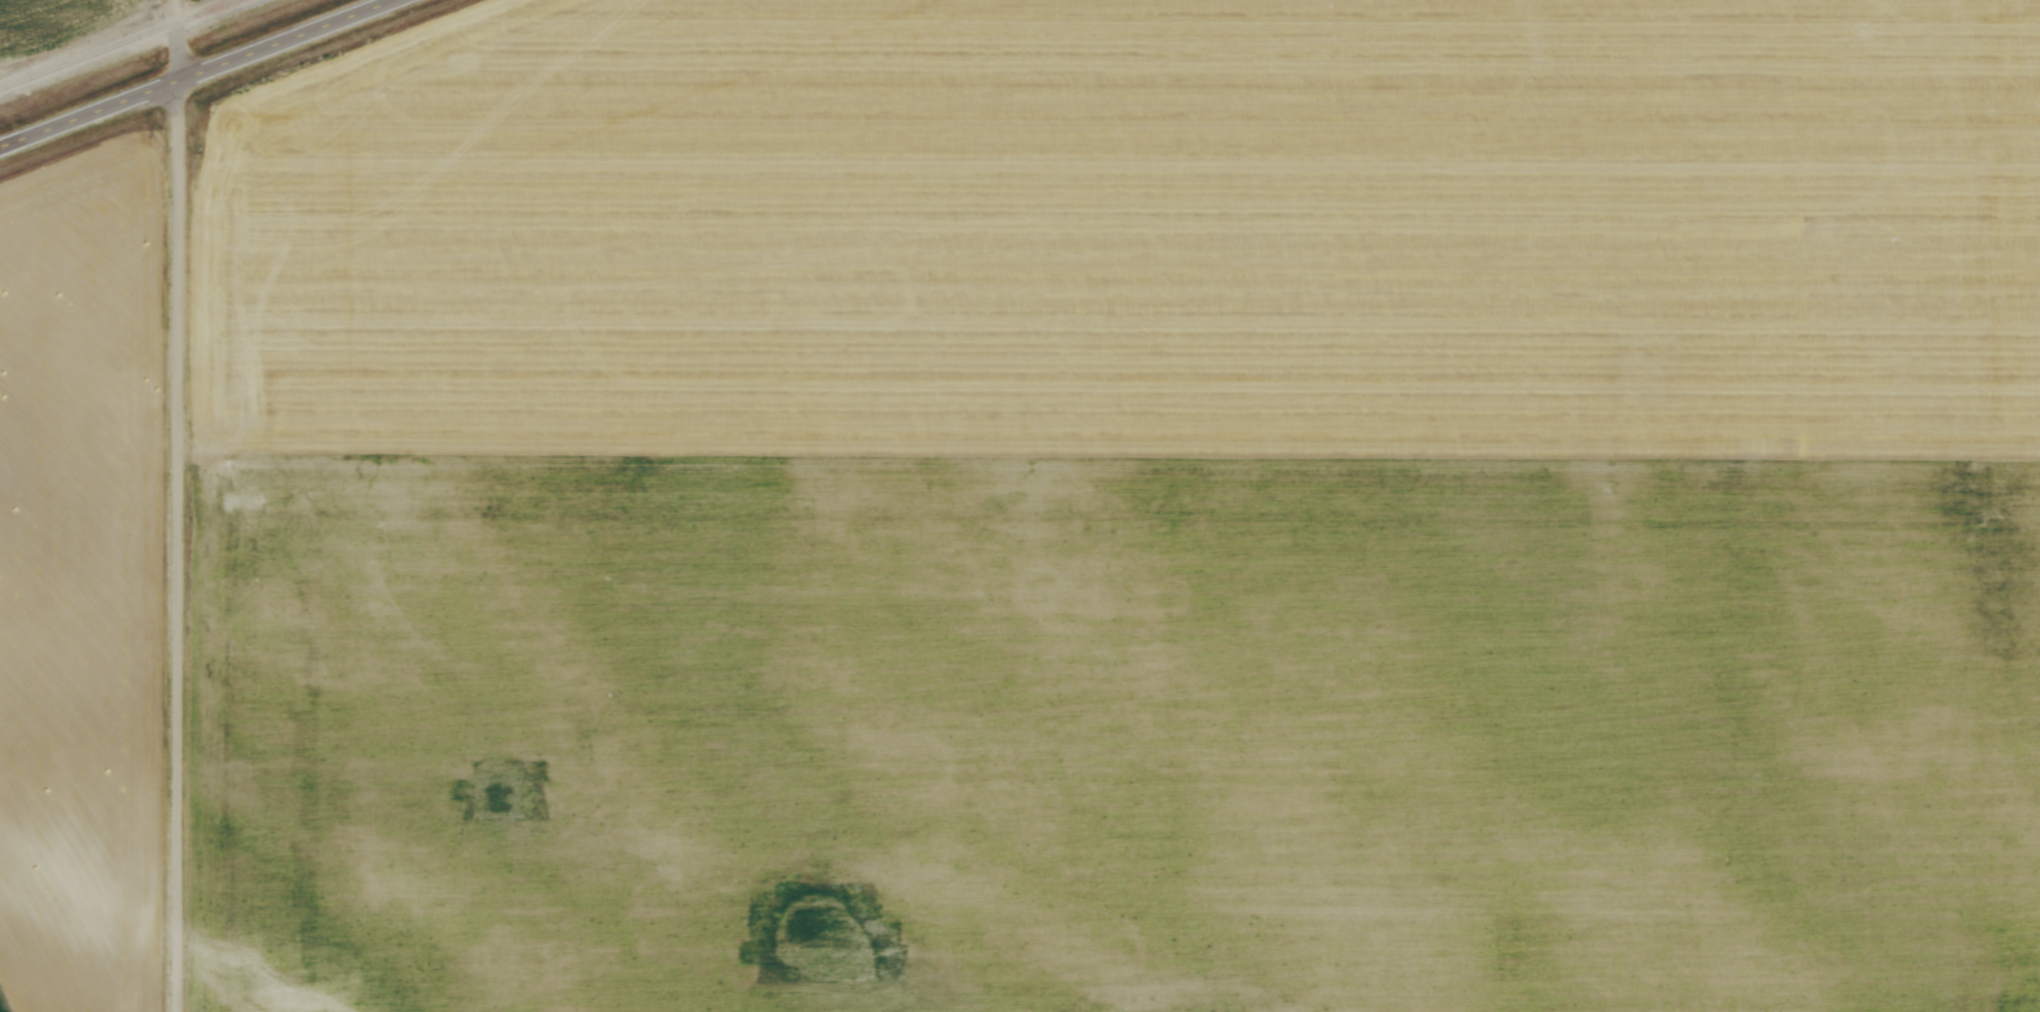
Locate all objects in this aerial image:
crop: (59, 22)
railway: (123, 41)
road: (194, 72)
road: (176, 506)
crop: (1123, 510)
crop: (83, 579)

